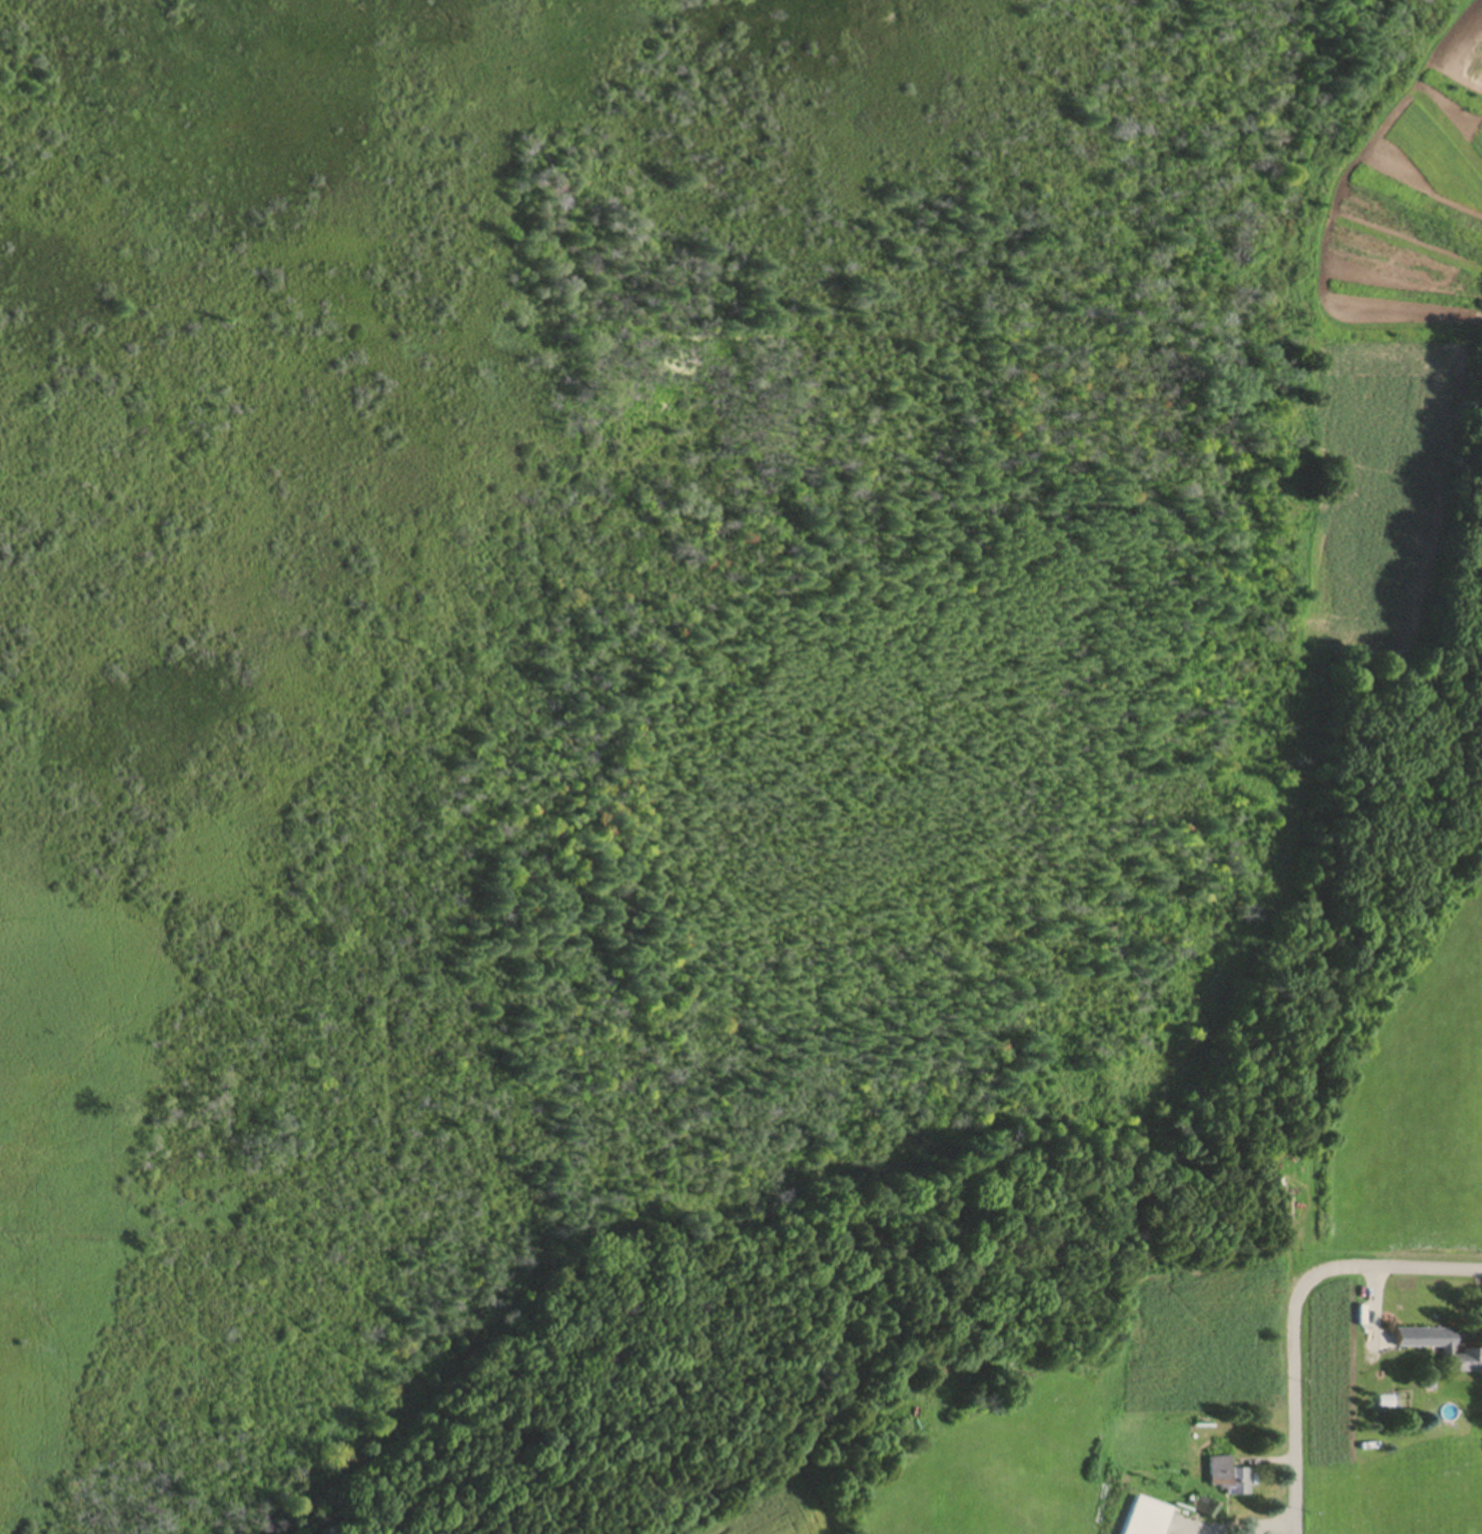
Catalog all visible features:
road: (1296, 1317)
building: (1441, 1351)
building: (1227, 1480)
road: (1233, 1520)

